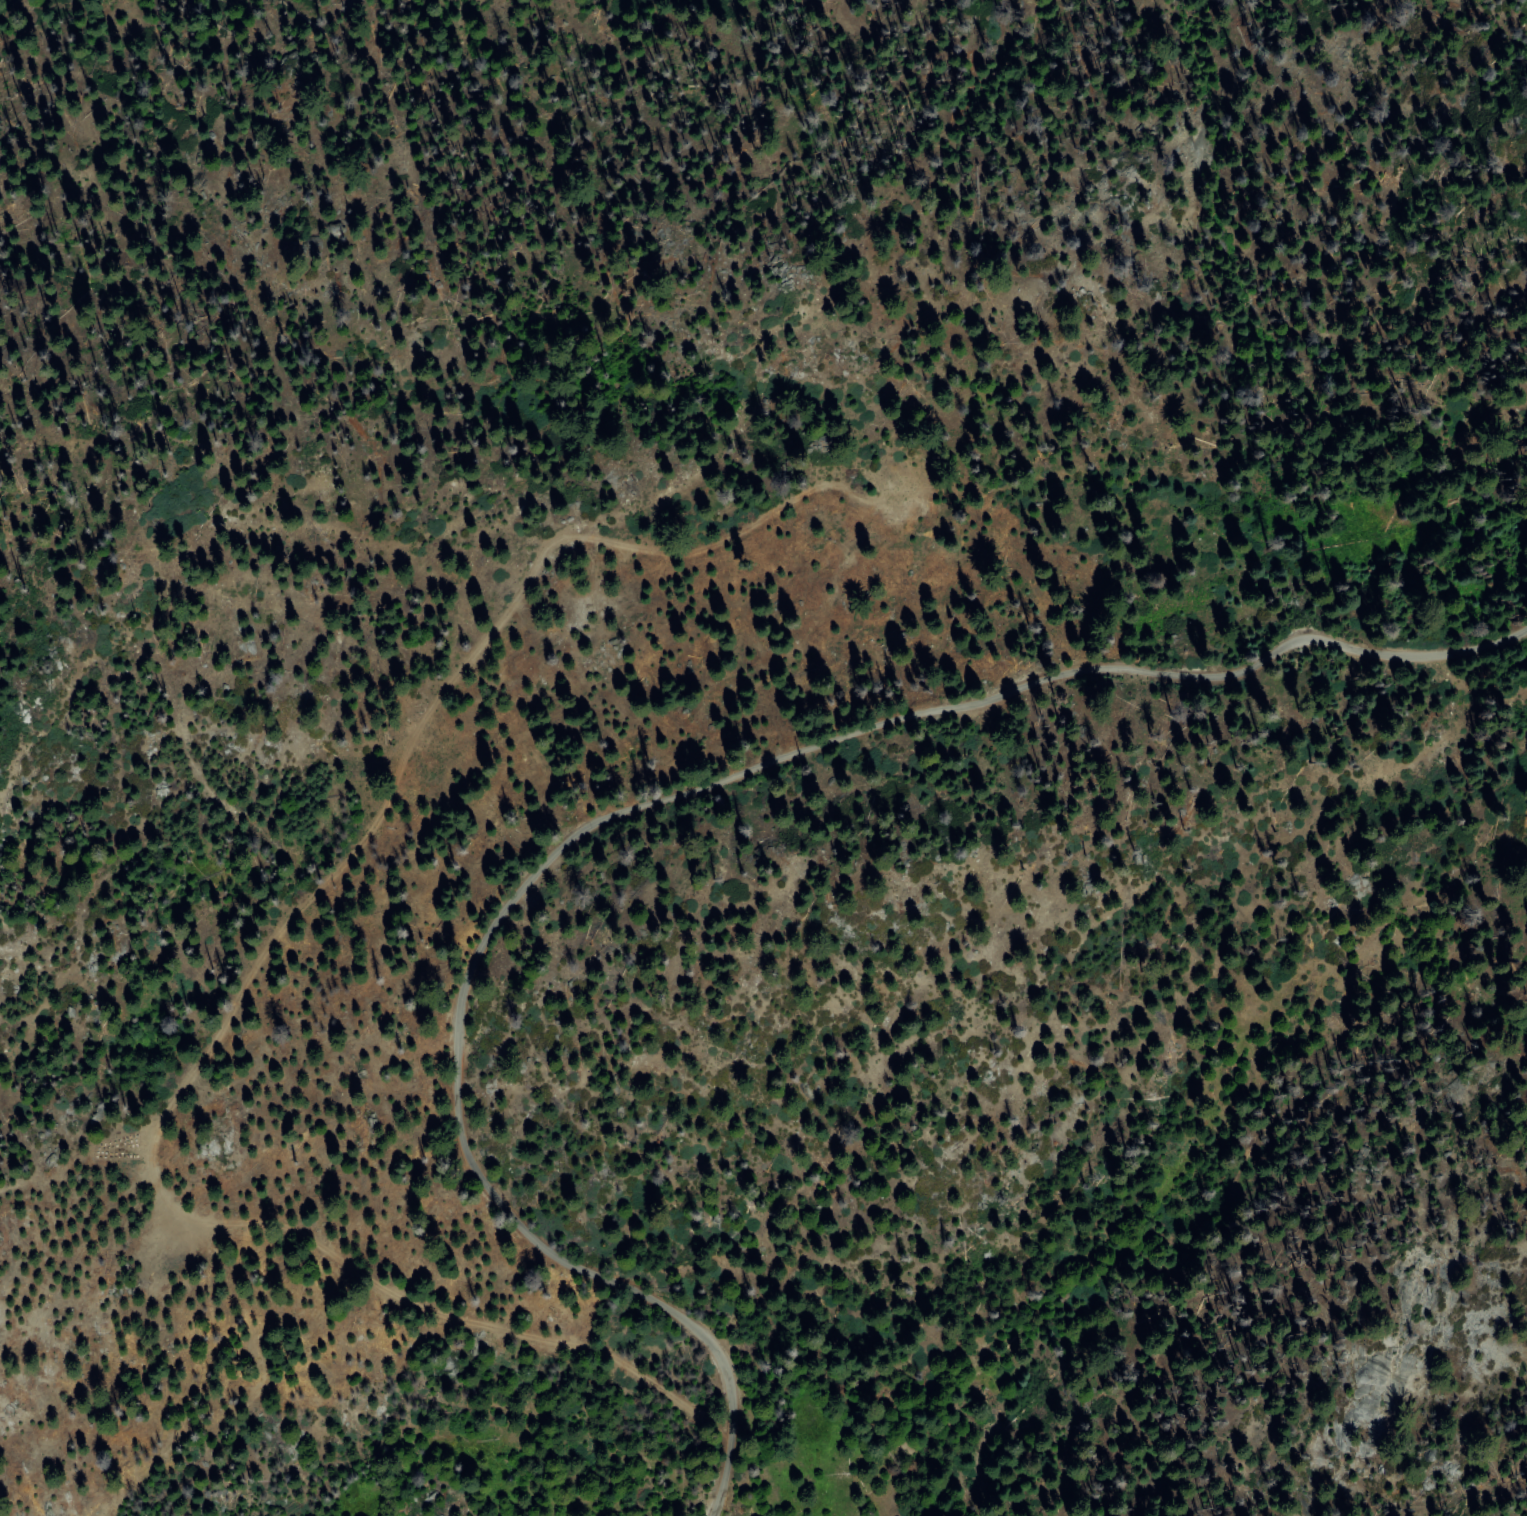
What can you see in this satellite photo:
building: (315, 112)
road: (643, 806)

